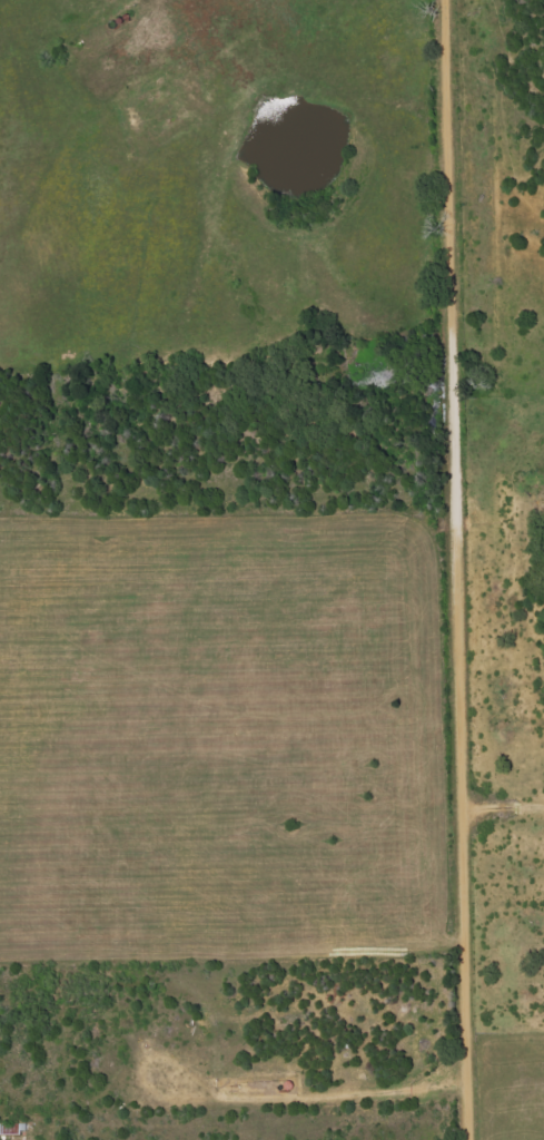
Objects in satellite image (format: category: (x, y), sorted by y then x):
road: (454, 570)

